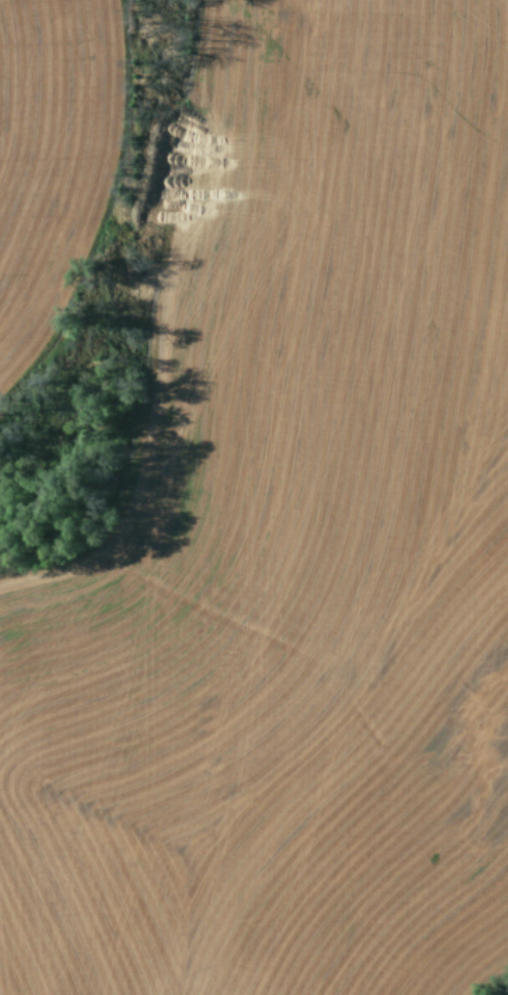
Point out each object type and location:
crop: (254, 497)

